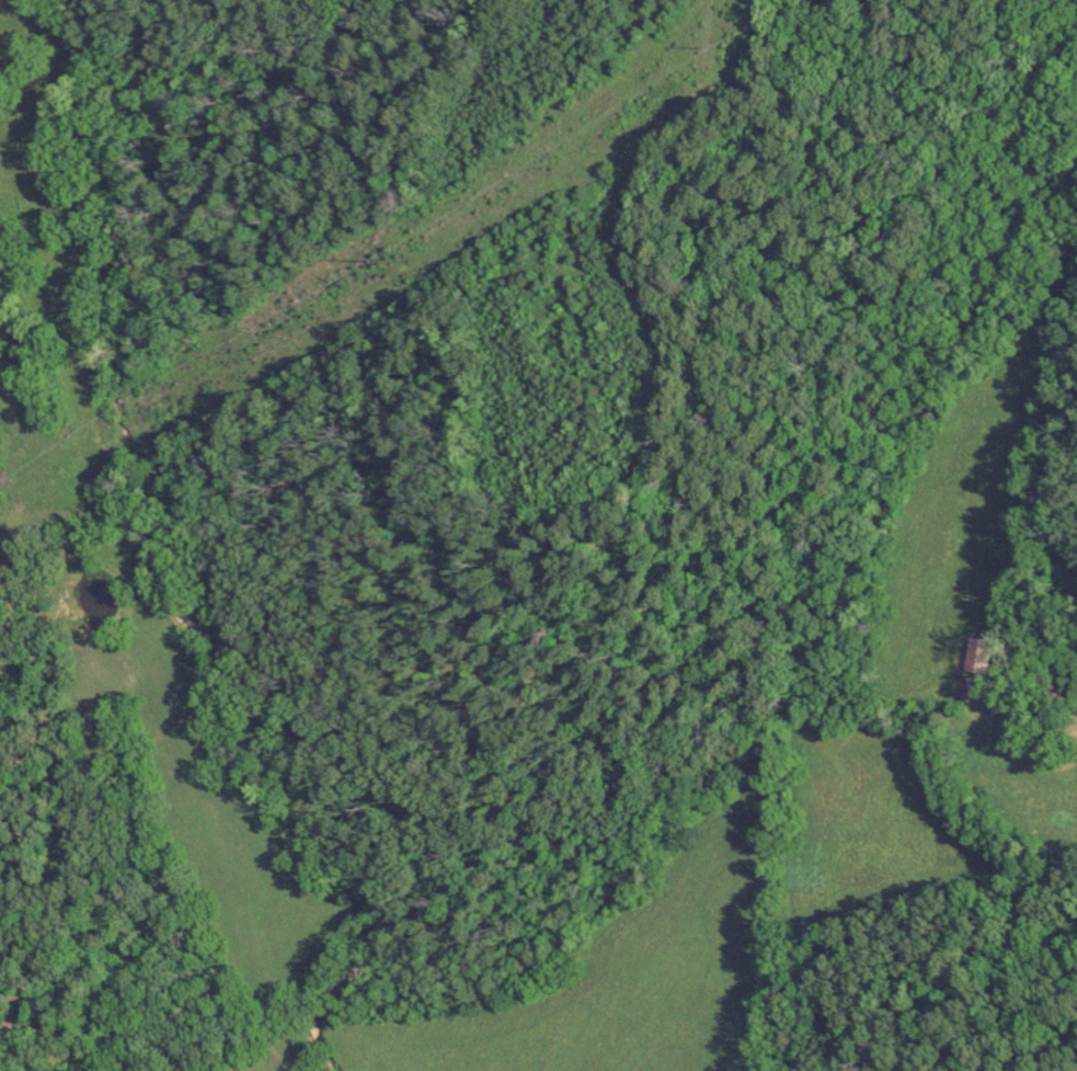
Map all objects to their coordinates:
building: (983, 656)

